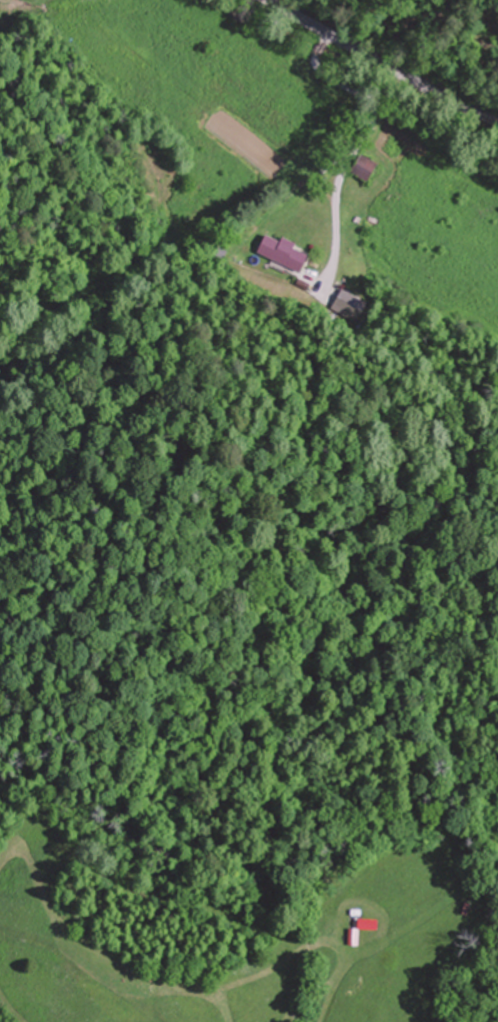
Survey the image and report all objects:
road: (383, 61)
building: (286, 253)
building: (349, 300)
road: (80, 961)

